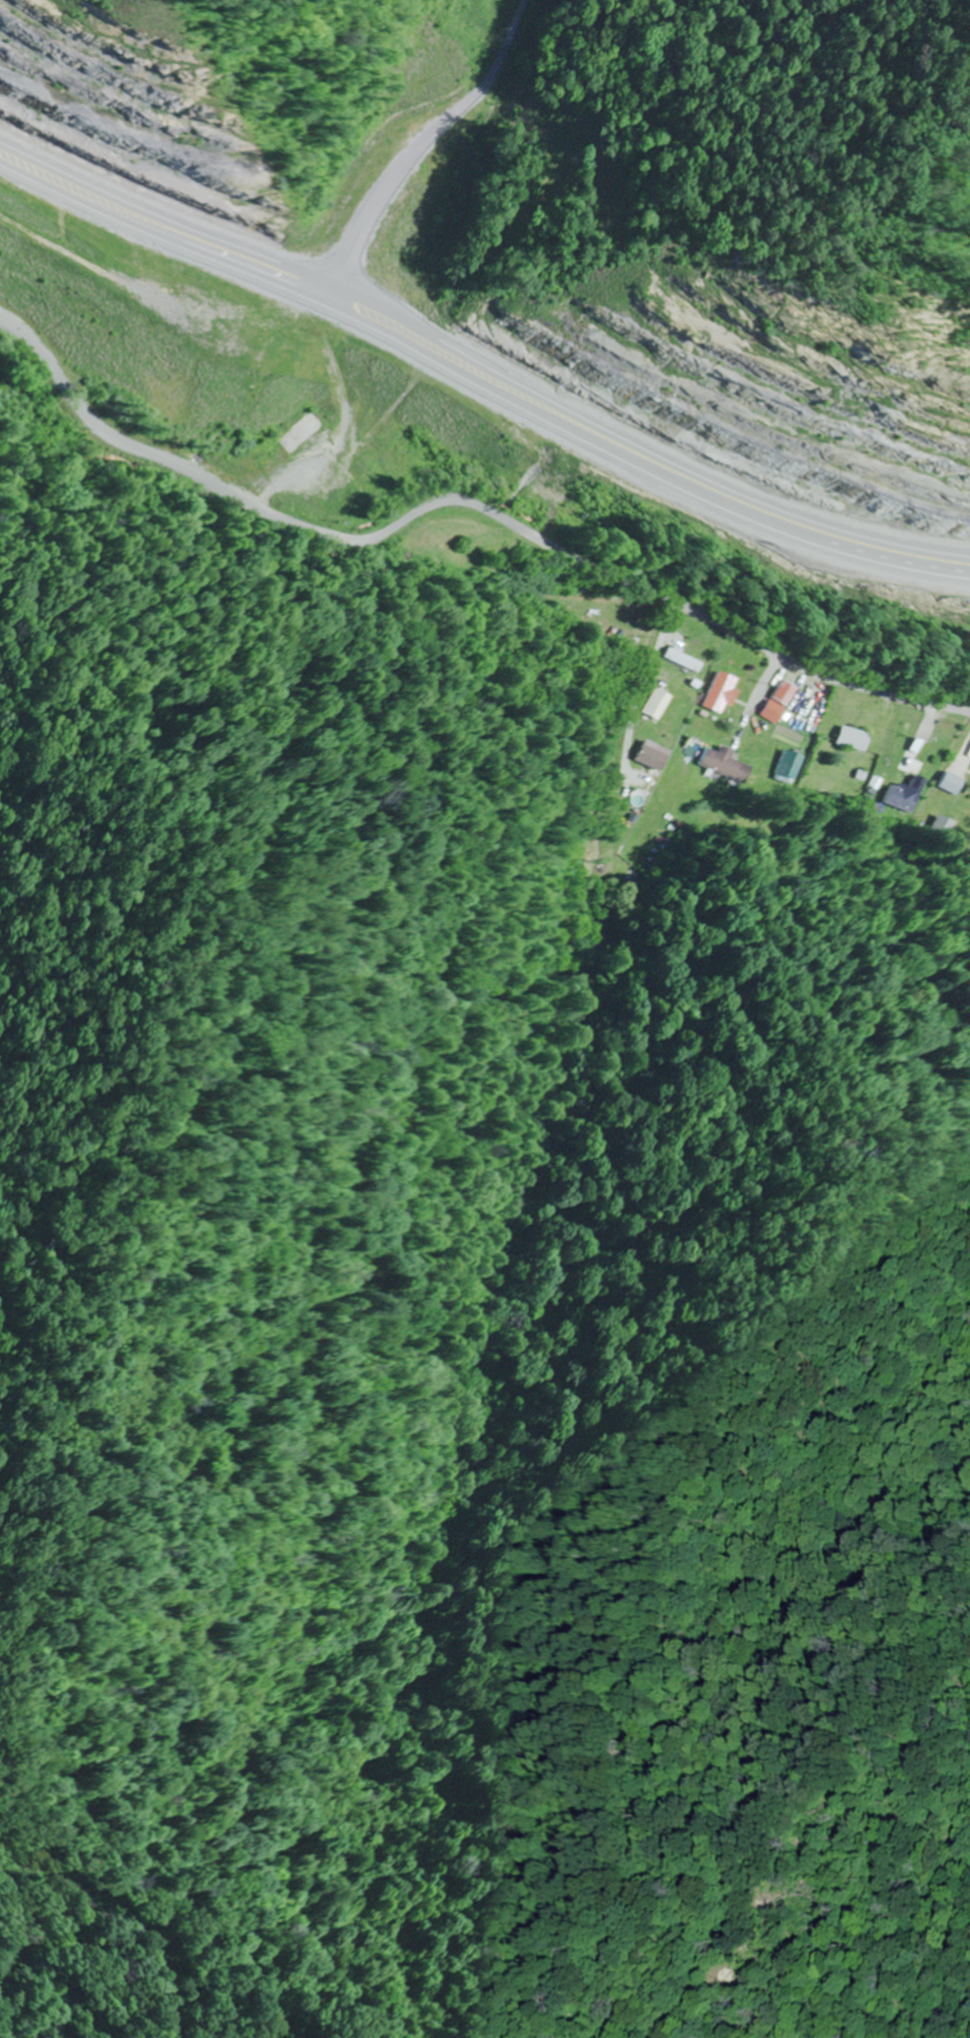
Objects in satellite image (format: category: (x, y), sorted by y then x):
building: (369, 353)
road: (478, 368)
building: (454, 432)
building: (302, 433)
building: (511, 473)
road: (464, 491)
building: (707, 659)
building: (655, 704)
building: (773, 712)
building: (808, 717)
building: (853, 739)
building: (652, 757)
building: (726, 764)
building: (790, 768)
building: (952, 783)
building: (903, 797)

